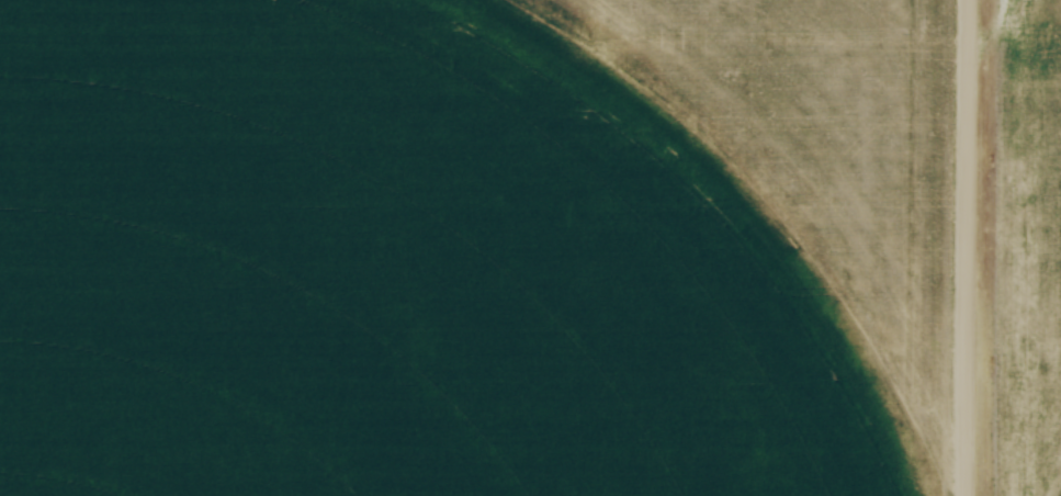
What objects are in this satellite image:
road: (970, 248)

